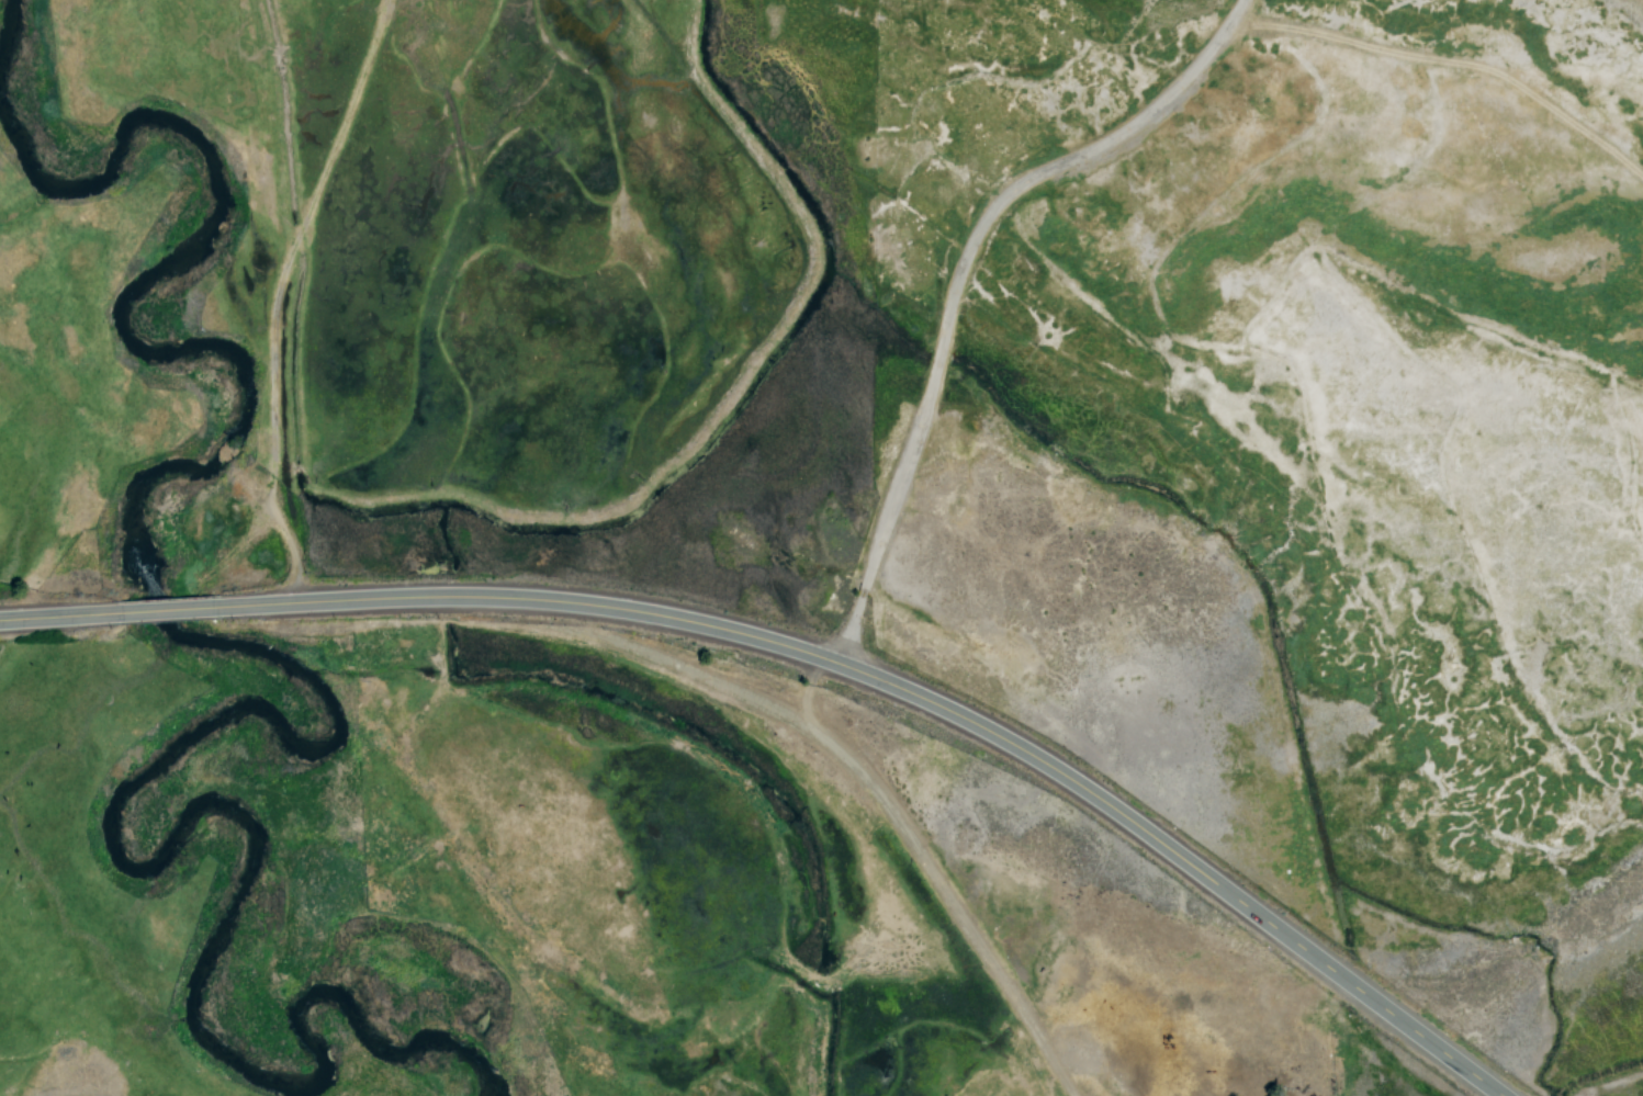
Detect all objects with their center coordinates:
river: (12, 35)
road: (271, 291)
river: (128, 298)
road: (942, 324)
river: (156, 610)
road: (813, 649)
river: (243, 828)
road: (929, 870)

